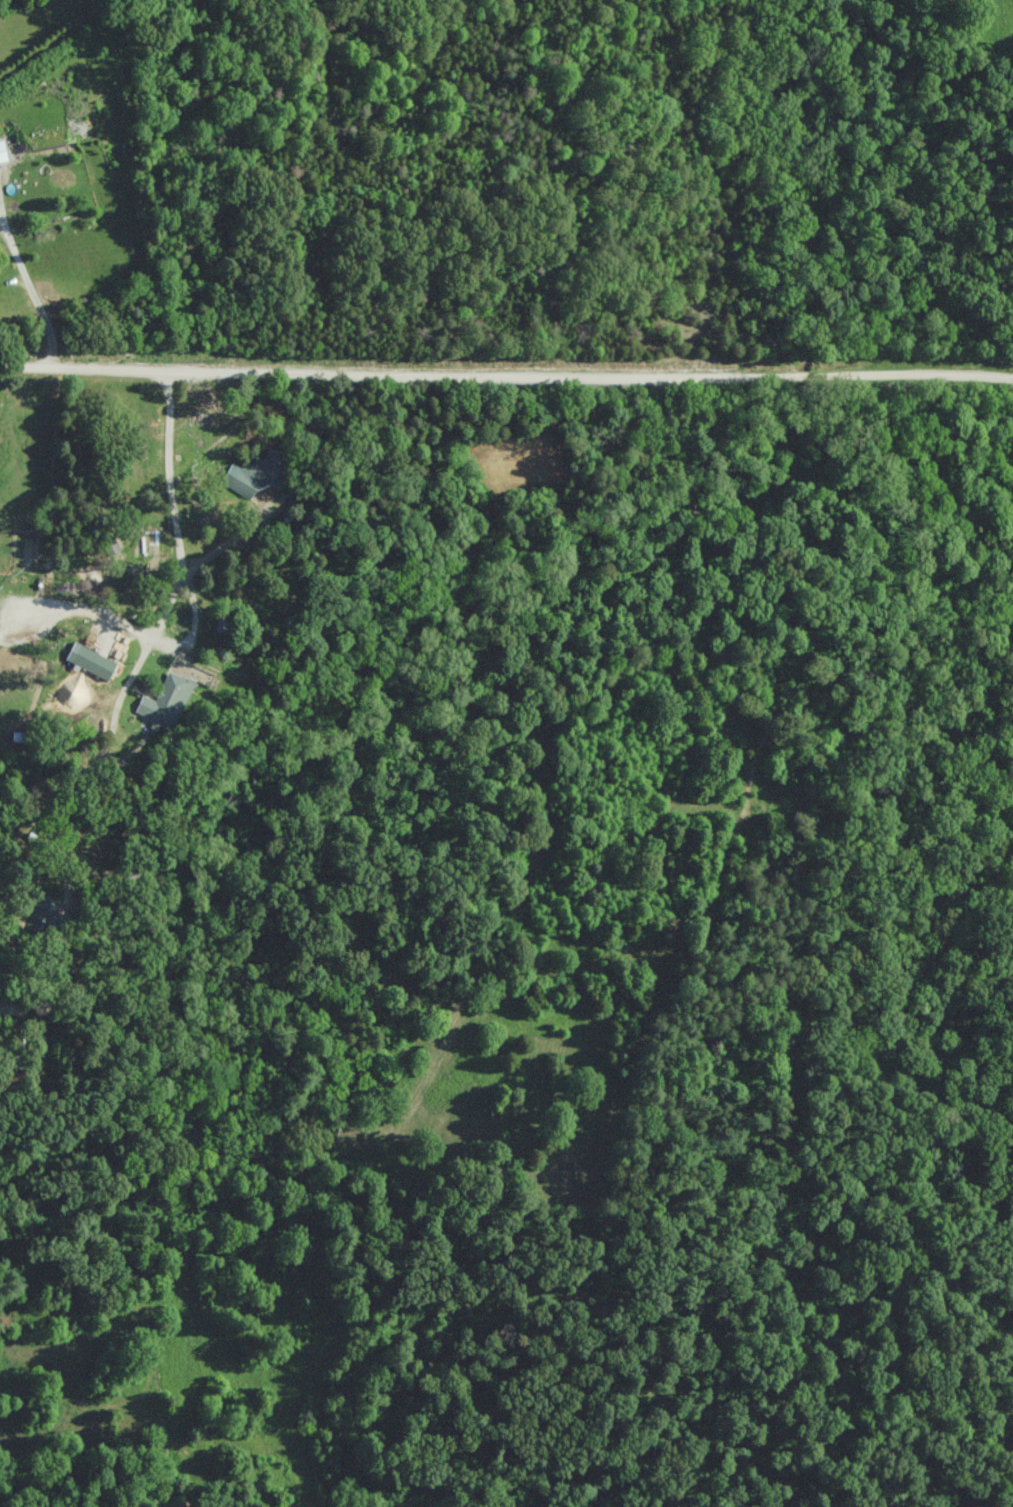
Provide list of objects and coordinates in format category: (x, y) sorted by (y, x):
building: (2, 153)
road: (506, 375)
building: (261, 473)
building: (89, 662)
building: (164, 701)
building: (41, 915)

